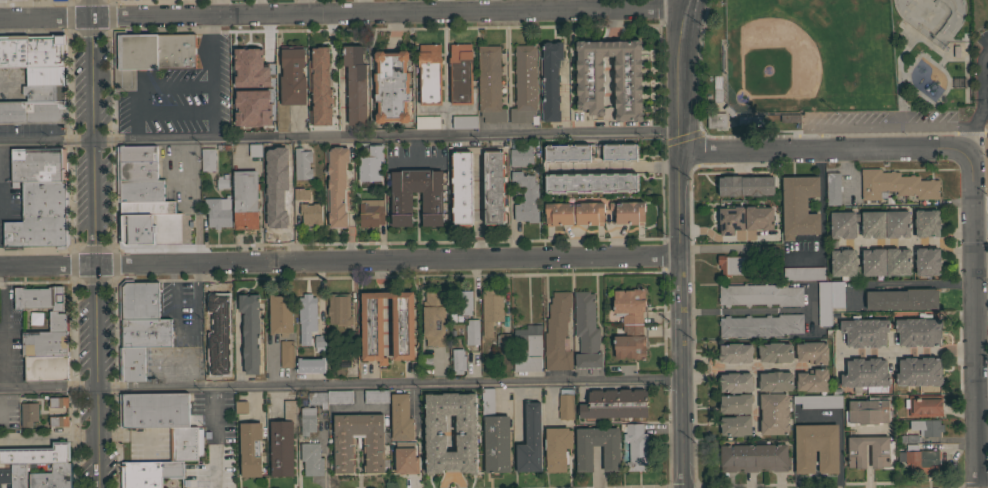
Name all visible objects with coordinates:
building: (57, 0)
building: (108, 0)
road: (69, 1)
road: (111, 1)
road: (678, 5)
road: (299, 9)
road: (340, 17)
park: (932, 17)
building: (31, 50)
building: (149, 54)
building: (321, 57)
building: (239, 64)
building: (264, 64)
park: (837, 66)
building: (460, 73)
building: (429, 74)
building: (44, 75)
building: (589, 77)
road: (210, 80)
building: (550, 81)
road: (146, 83)
building: (355, 83)
building: (490, 84)
building: (290, 85)
building: (524, 85)
building: (310, 86)
building: (391, 86)
building: (42, 92)
road: (565, 95)
road: (982, 97)
building: (327, 99)
building: (33, 112)
road: (175, 112)
building: (790, 118)
building: (267, 119)
building: (236, 120)
building: (716, 120)
building: (464, 121)
building: (322, 122)
building: (427, 122)
road: (882, 126)
road: (338, 137)
building: (255, 149)
road: (825, 149)
building: (589, 152)
building: (135, 153)
building: (522, 154)
building: (207, 159)
building: (277, 160)
building: (38, 163)
building: (302, 163)
road: (614, 167)
building: (136, 170)
building: (366, 171)
building: (222, 181)
building: (286, 182)
building: (590, 182)
building: (895, 184)
building: (336, 185)
building: (745, 185)
building: (493, 187)
building: (461, 188)
building: (833, 188)
building: (139, 189)
building: (301, 193)
building: (525, 197)
building: (245, 199)
building: (887, 201)
road: (191, 202)
building: (922, 203)
building: (799, 206)
building: (147, 207)
building: (432, 209)
building: (628, 210)
building: (218, 211)
building: (274, 211)
building: (370, 212)
building: (310, 213)
building: (590, 213)
building: (558, 214)
building: (449, 215)
building: (40, 216)
building: (744, 218)
building: (926, 223)
building: (843, 224)
building: (873, 224)
building: (896, 224)
road: (981, 224)
building: (149, 229)
road: (943, 241)
road: (94, 243)
road: (678, 243)
road: (893, 244)
road: (339, 260)
building: (873, 261)
building: (897, 261)
building: (927, 261)
building: (844, 262)
building: (731, 264)
building: (803, 273)
road: (380, 275)
road: (909, 282)
road: (386, 294)
building: (760, 294)
building: (902, 298)
building: (138, 299)
building: (828, 299)
building: (463, 301)
building: (339, 309)
building: (490, 310)
road: (746, 310)
building: (307, 311)
building: (280, 314)
building: (215, 317)
road: (977, 317)
building: (433, 318)
building: (629, 323)
road: (387, 325)
building: (760, 325)
building: (403, 327)
building: (918, 330)
building: (471, 331)
building: (586, 331)
building: (864, 331)
building: (145, 332)
building: (251, 332)
building: (557, 332)
building: (44, 335)
building: (503, 339)
building: (528, 340)
building: (320, 342)
road: (1, 344)
building: (215, 350)
road: (907, 351)
building: (775, 352)
building: (811, 352)
building: (286, 353)
building: (735, 353)
building: (458, 360)
building: (131, 363)
building: (527, 363)
building: (310, 365)
road: (758, 366)
road: (711, 367)
building: (919, 371)
building: (866, 374)
building: (812, 380)
building: (775, 381)
building: (735, 382)
road: (340, 387)
building: (835, 392)
building: (376, 396)
building: (330, 397)
road: (756, 400)
building: (58, 401)
building: (816, 402)
building: (735, 403)
building: (565, 404)
building: (614, 404)
building: (923, 405)
building: (240, 407)
building: (153, 409)
building: (868, 411)
building: (774, 413)
building: (28, 414)
building: (400, 417)
building: (306, 420)
building: (58, 421)
building: (735, 425)
building: (926, 426)
building: (430, 432)
building: (494, 435)
road: (216, 438)
building: (909, 438)
building: (530, 440)
building: (185, 443)
building: (343, 444)
building: (635, 446)
building: (556, 447)
building: (250, 448)
building: (281, 448)
building: (816, 448)
building: (37, 454)
building: (856, 455)
building: (754, 457)
building: (584, 458)
building: (311, 459)
building: (920, 460)
building: (405, 461)
building: (162, 474)
building: (18, 475)
building: (5, 476)
building: (52, 477)

